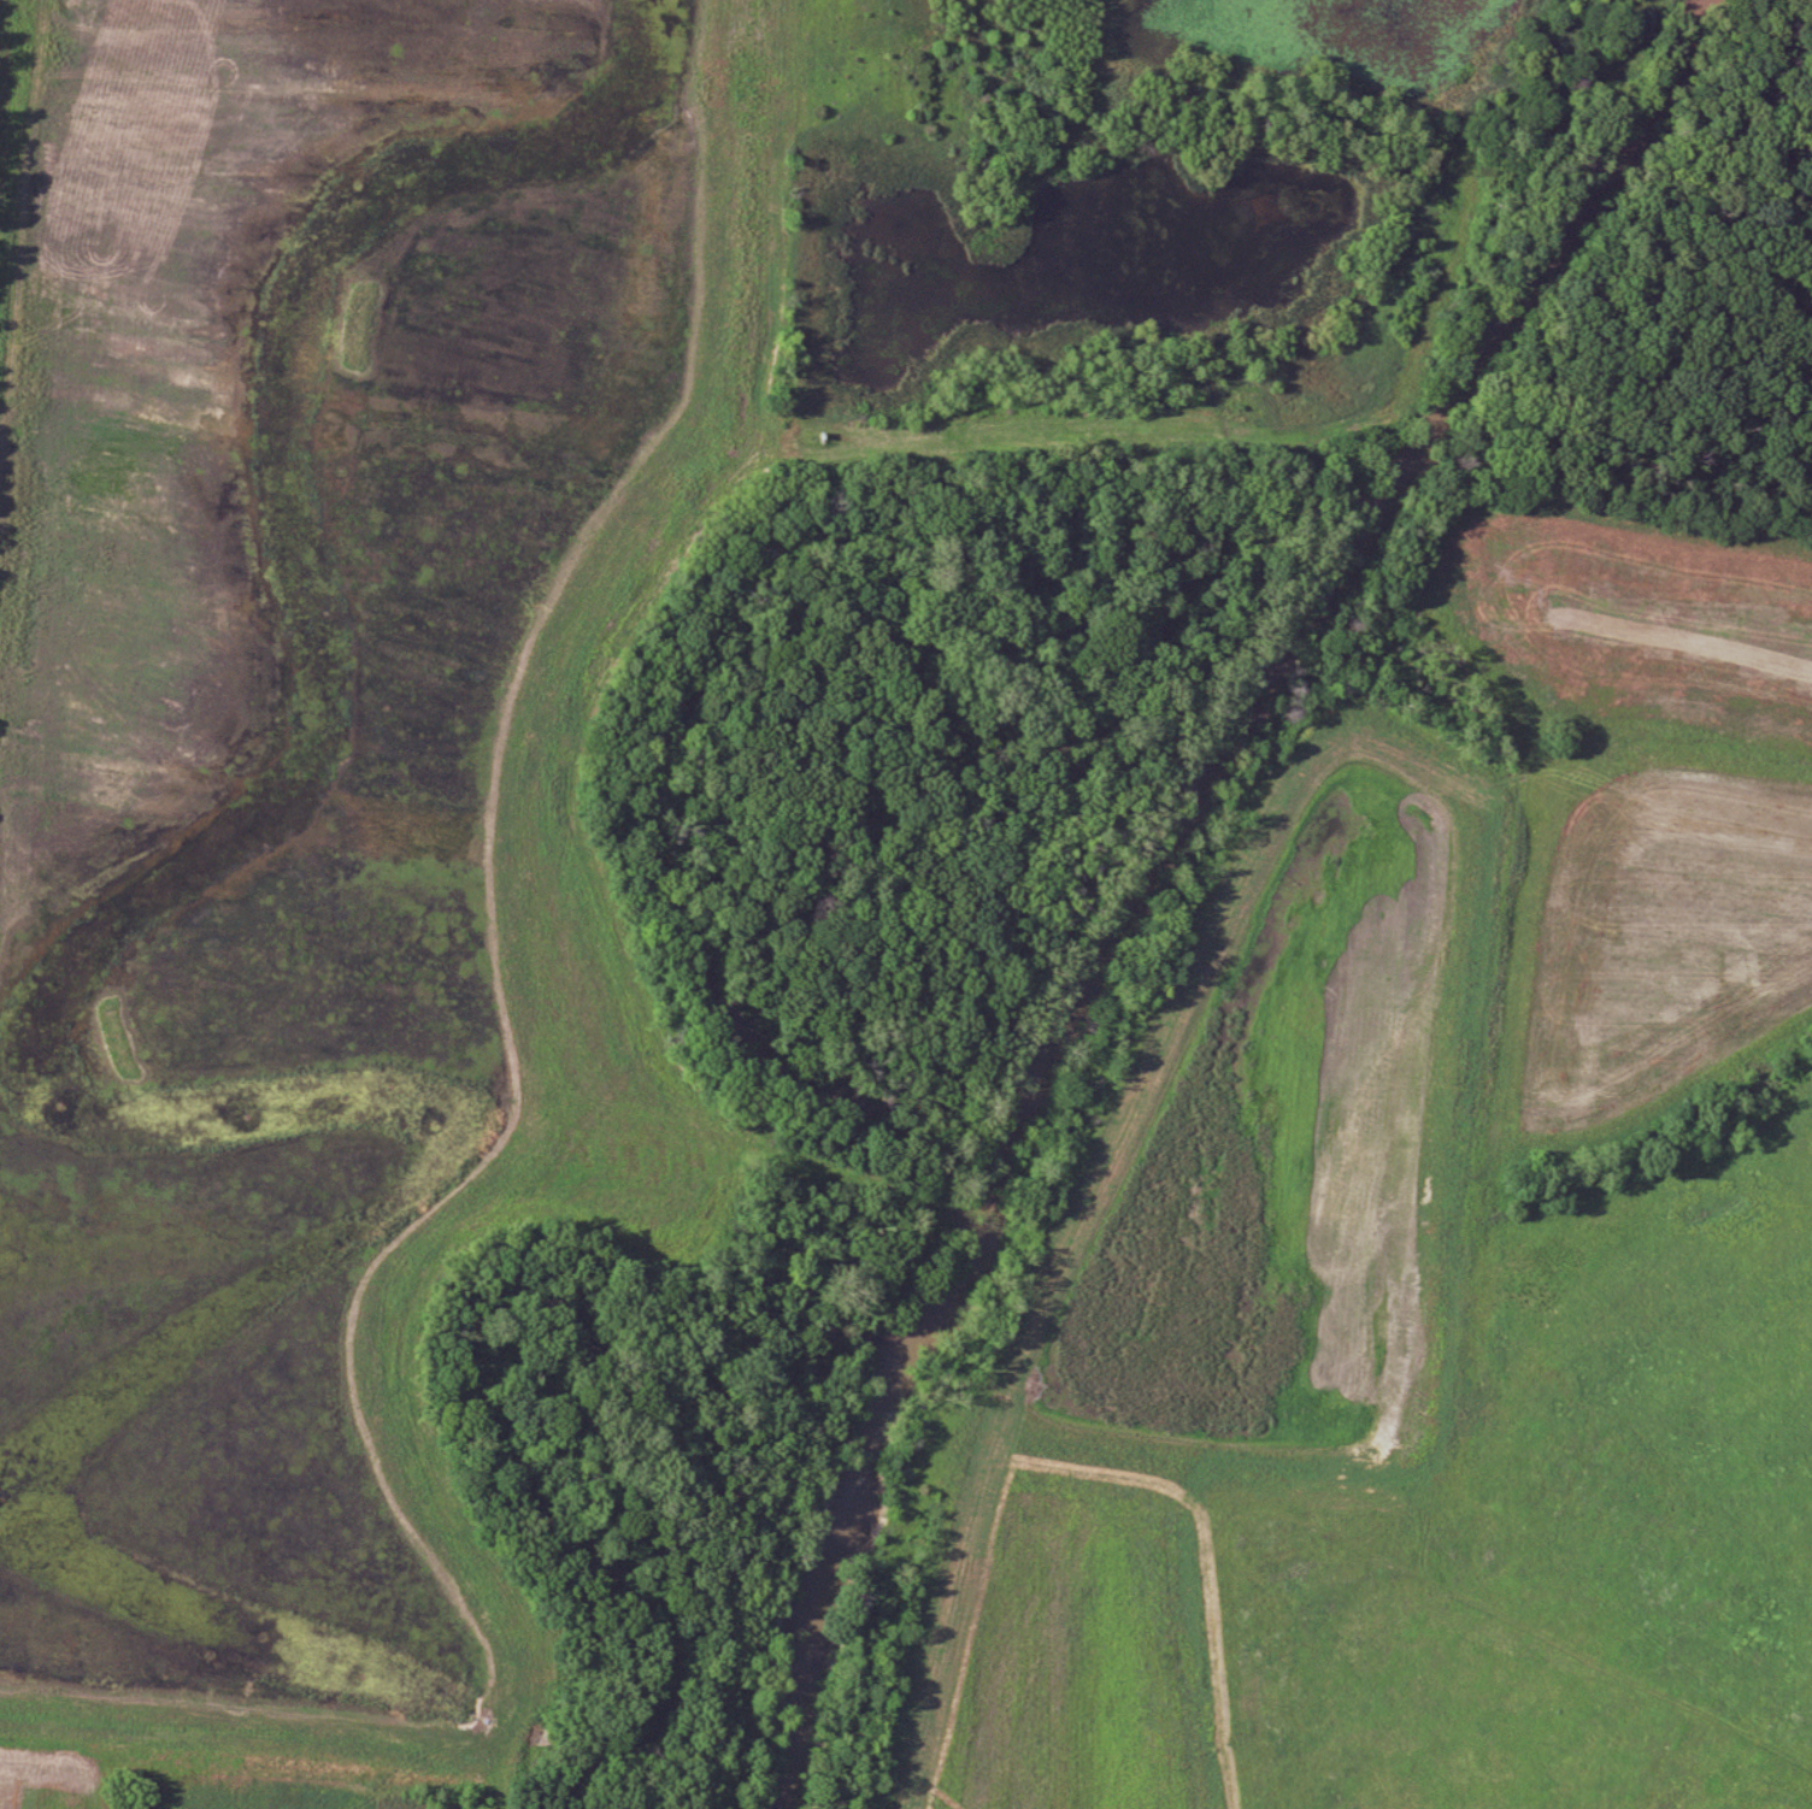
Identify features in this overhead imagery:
river: (1153, 865)

